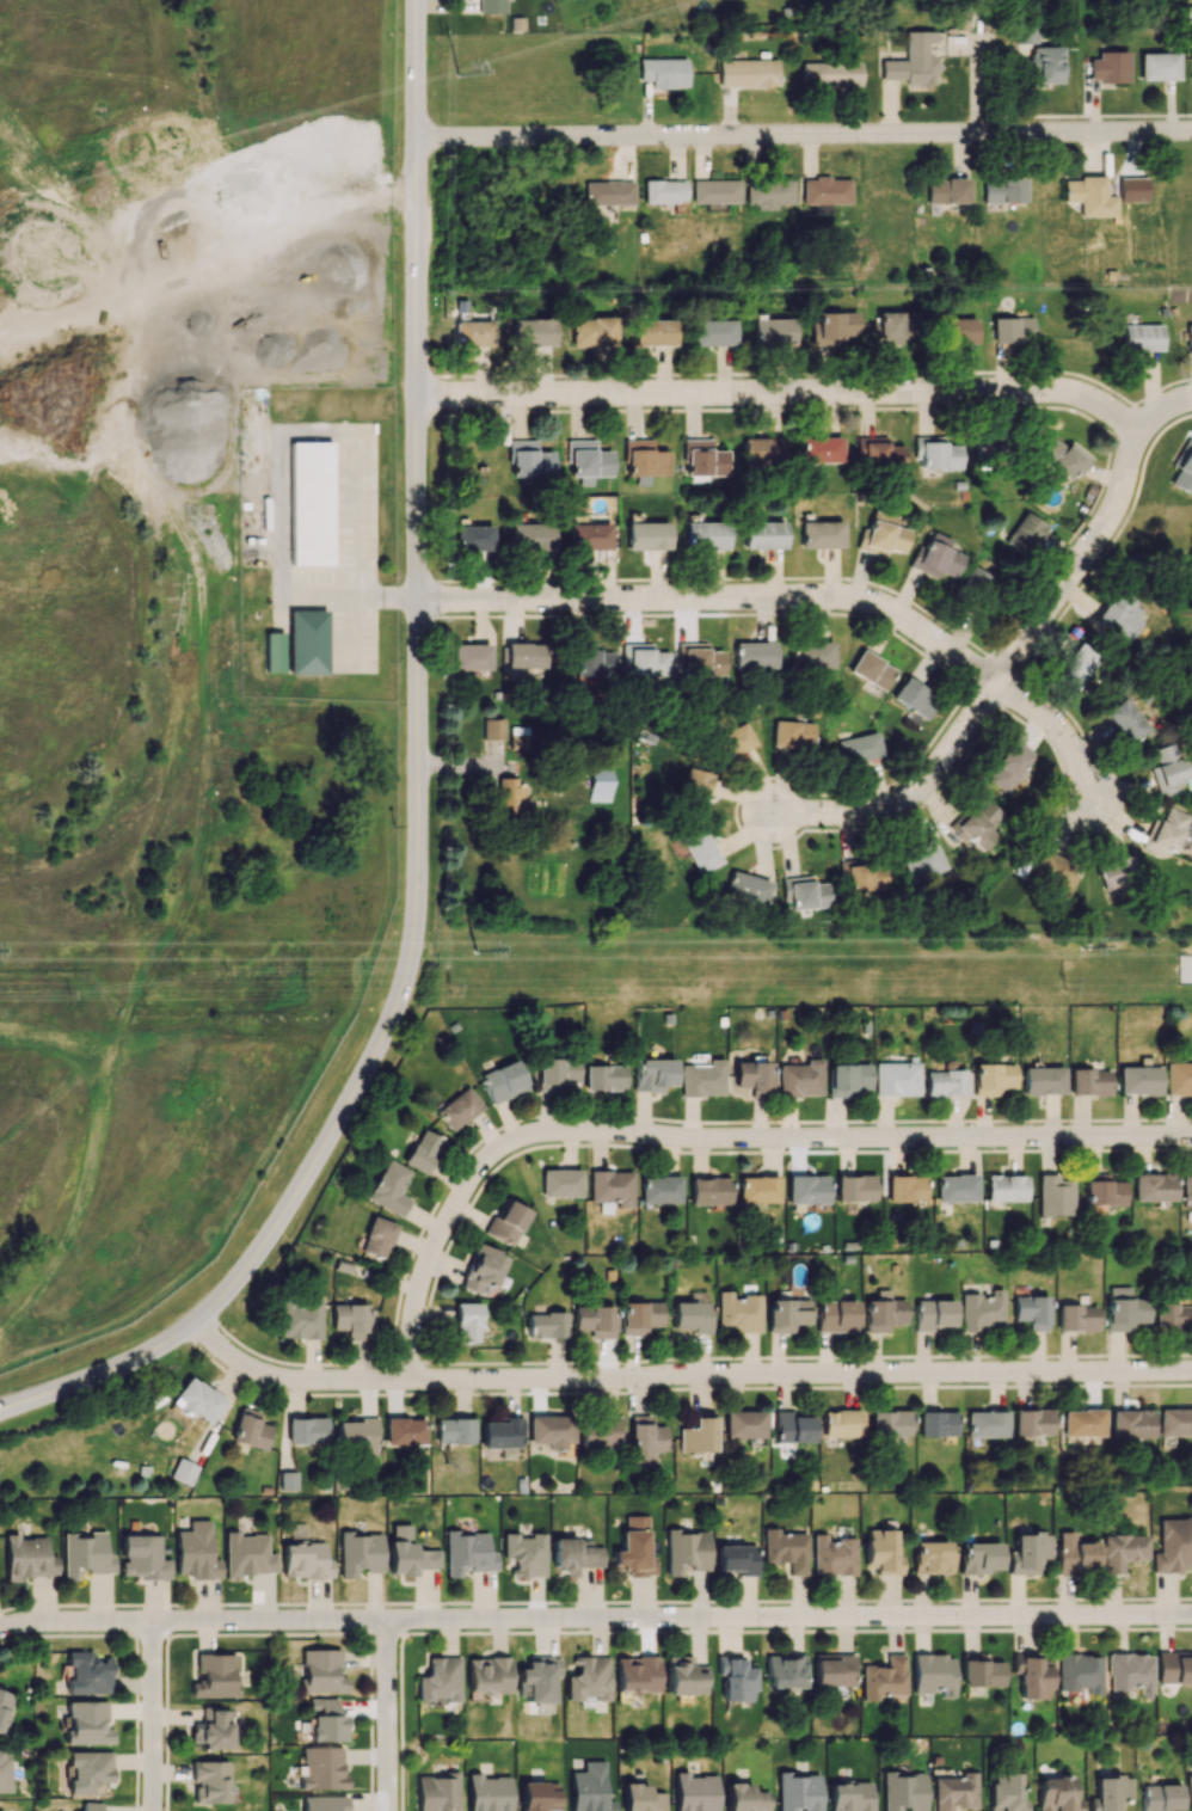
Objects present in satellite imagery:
building: (491, 6)
building: (1025, 32)
building: (913, 61)
building: (1045, 66)
building: (1157, 66)
building: (1108, 67)
building: (664, 72)
building: (748, 73)
building: (830, 74)
power tower: (456, 75)
building: (1191, 75)
landfill: (88, 113)
road: (804, 134)
building: (1132, 189)
building: (947, 190)
building: (1003, 190)
building: (664, 191)
building: (609, 192)
building: (768, 192)
building: (825, 192)
building: (715, 194)
building: (1088, 196)
building: (895, 326)
building: (834, 327)
building: (1010, 329)
building: (958, 330)
building: (592, 331)
building: (774, 331)
building: (533, 332)
building: (652, 332)
building: (713, 332)
building: (473, 333)
building: (1142, 337)
building: (1188, 338)
road: (785, 392)
road: (1163, 415)
road: (308, 432)
building: (985, 444)
building: (822, 449)
building: (763, 450)
building: (878, 453)
building: (936, 453)
building: (1064, 458)
building: (529, 459)
building: (588, 459)
building: (645, 459)
building: (705, 459)
building: (1184, 468)
building: (309, 502)
building: (584, 533)
building: (1022, 533)
building: (763, 534)
building: (821, 534)
building: (647, 535)
building: (705, 535)
building: (881, 535)
building: (530, 536)
building: (473, 538)
parking lot: (348, 553)
building: (935, 557)
road: (1080, 566)
building: (976, 579)
road: (718, 598)
building: (1122, 615)
building: (307, 641)
building: (272, 653)
building: (754, 655)
building: (811, 655)
building: (471, 656)
building: (523, 656)
building: (644, 659)
building: (699, 659)
building: (592, 662)
building: (1079, 667)
building: (872, 669)
landfill: (61, 671)
building: (915, 698)
building: (1126, 720)
building: (493, 729)
road: (1057, 730)
building: (792, 733)
building: (518, 737)
building: (733, 741)
building: (860, 748)
building: (1008, 767)
building: (1167, 767)
building: (598, 785)
building: (695, 788)
road: (910, 797)
building: (510, 798)
road: (417, 799)
building: (979, 823)
building: (1165, 833)
building: (700, 849)
building: (922, 860)
building: (1053, 872)
building: (1117, 872)
building: (864, 876)
building: (746, 890)
building: (805, 894)
power tower: (1079, 954)
power tower: (478, 957)
power tower: (1069, 986)
power tower: (451, 988)
building: (555, 1073)
building: (652, 1074)
building: (603, 1078)
building: (752, 1078)
building: (1179, 1078)
building: (702, 1079)
building: (800, 1079)
building: (847, 1079)
building: (896, 1079)
building: (991, 1079)
building: (1138, 1080)
building: (503, 1081)
building: (1043, 1081)
building: (944, 1082)
building: (1088, 1082)
building: (459, 1109)
road: (717, 1141)
building: (423, 1150)
building: (560, 1183)
building: (1187, 1186)
building: (389, 1187)
building: (612, 1187)
building: (856, 1187)
building: (907, 1187)
building: (957, 1187)
building: (1004, 1187)
building: (1153, 1187)
building: (660, 1189)
building: (807, 1189)
building: (758, 1190)
building: (1102, 1190)
building: (709, 1191)
building: (1055, 1196)
building: (506, 1223)
building: (377, 1238)
building: (483, 1269)
building: (1124, 1309)
building: (982, 1312)
building: (1032, 1312)
building: (738, 1313)
building: (883, 1313)
building: (786, 1314)
building: (932, 1314)
building: (690, 1315)
building: (836, 1315)
building: (639, 1316)
building: (1174, 1316)
building: (1077, 1318)
building: (352, 1319)
building: (300, 1320)
building: (595, 1320)
building: (466, 1321)
building: (546, 1325)
road: (683, 1379)
building: (198, 1400)
building: (1033, 1422)
building: (1175, 1422)
building: (841, 1423)
building: (889, 1423)
building: (938, 1423)
building: (1083, 1423)
building: (1131, 1423)
building: (987, 1424)
building: (744, 1425)
building: (792, 1428)
building: (307, 1430)
building: (454, 1430)
building: (549, 1430)
building: (250, 1431)
building: (405, 1431)
building: (500, 1432)
building: (598, 1432)
building: (698, 1435)
building: (357, 1437)
building: (644, 1438)
building: (184, 1471)
building: (287, 1480)
building: (1173, 1545)
building: (634, 1548)
building: (786, 1549)
building: (1124, 1549)
building: (195, 1552)
building: (408, 1552)
building: (687, 1552)
building: (881, 1552)
building: (1027, 1552)
building: (360, 1553)
building: (467, 1553)
building: (526, 1553)
building: (85, 1554)
building: (247, 1554)
building: (576, 1554)
building: (1076, 1554)
building: (834, 1555)
building: (142, 1557)
building: (930, 1557)
building: (27, 1558)
building: (978, 1558)
building: (737, 1559)
building: (306, 1560)
road: (671, 1619)
road: (75, 1626)
building: (832, 1669)
building: (1174, 1669)
building: (979, 1670)
building: (321, 1671)
building: (784, 1671)
building: (1079, 1672)
building: (1131, 1672)
building: (87, 1674)
building: (637, 1674)
building: (933, 1674)
building: (487, 1675)
building: (215, 1676)
building: (682, 1676)
building: (1031, 1676)
building: (588, 1678)
building: (735, 1678)
building: (883, 1678)
building: (440, 1680)
building: (536, 1680)
building: (4, 1706)
road: (166, 1713)
road: (152, 1718)
road: (389, 1719)
building: (327, 1721)
building: (87, 1723)
building: (213, 1727)
building: (321, 1768)
building: (5, 1770)
building: (87, 1770)
building: (209, 1781)
building: (589, 1788)
building: (1190, 1789)
building: (903, 1791)
building: (695, 1792)
building: (798, 1792)
building: (956, 1792)
building: (1006, 1792)
building: (1110, 1792)
building: (438, 1793)
building: (487, 1793)
building: (1057, 1794)
building: (540, 1795)
building: (1160, 1797)
building: (641, 1798)
building: (745, 1798)
building: (324, 1803)
building: (91, 1806)
building: (1, 1810)

